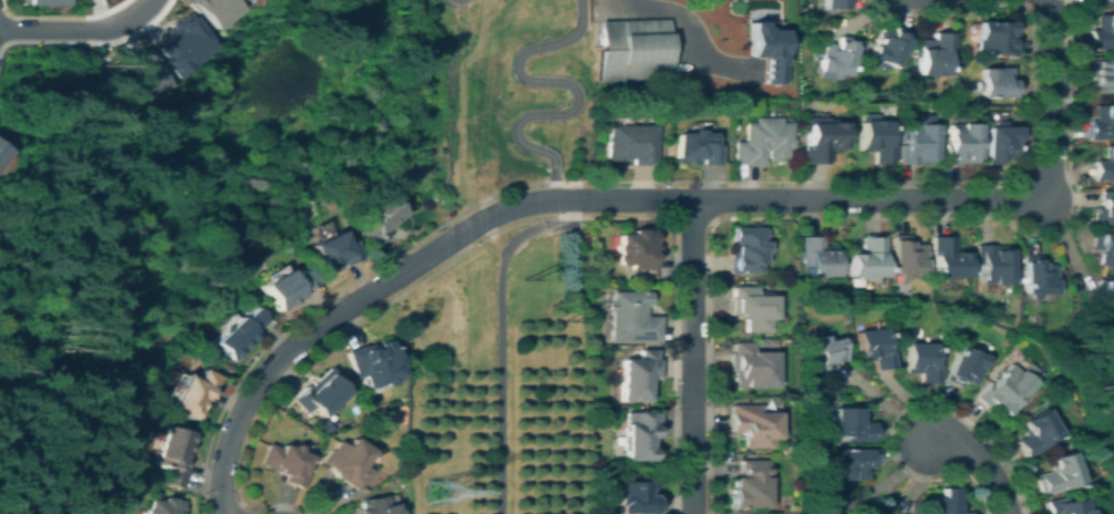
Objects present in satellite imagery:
building: (230, 0)
building: (1096, 0)
building: (42, 1)
building: (837, 3)
road: (1040, 9)
building: (212, 11)
road: (37, 16)
road: (3, 25)
road: (78, 28)
road: (458, 28)
building: (1101, 32)
building: (994, 37)
road: (698, 40)
road: (90, 41)
building: (178, 45)
building: (887, 45)
building: (763, 50)
building: (633, 51)
building: (932, 53)
building: (835, 58)
building: (137, 72)
building: (1100, 74)
road: (566, 83)
building: (994, 83)
park: (471, 91)
building: (1101, 122)
road: (494, 134)
building: (3, 138)
building: (819, 138)
building: (874, 140)
building: (762, 141)
building: (998, 142)
building: (629, 143)
building: (915, 143)
building: (957, 143)
building: (693, 147)
building: (3, 154)
building: (1104, 165)
road: (560, 181)
road: (956, 181)
road: (885, 199)
building: (1104, 208)
road: (860, 216)
building: (379, 217)
road: (690, 220)
road: (495, 230)
building: (636, 248)
building: (1103, 248)
building: (746, 249)
building: (331, 251)
building: (905, 256)
building: (816, 257)
building: (866, 258)
building: (946, 258)
building: (991, 264)
power tower: (522, 276)
building: (1035, 277)
building: (651, 279)
building: (283, 287)
road: (322, 299)
building: (1104, 300)
building: (750, 308)
building: (630, 317)
power tower: (564, 318)
road: (327, 321)
road: (497, 322)
building: (236, 333)
building: (759, 342)
building: (873, 347)
building: (821, 351)
road: (690, 356)
building: (922, 361)
building: (374, 363)
building: (749, 366)
building: (965, 366)
building: (637, 374)
building: (1000, 392)
building: (193, 393)
building: (321, 393)
road: (896, 414)
building: (361, 417)
building: (751, 424)
building: (852, 424)
building: (1034, 432)
building: (639, 434)
building: (174, 453)
building: (348, 462)
road: (978, 462)
building: (287, 463)
building: (852, 463)
building: (1056, 473)
building: (746, 485)
power tower: (425, 489)
building: (635, 497)
building: (948, 502)
building: (164, 506)
building: (373, 506)
building: (1063, 506)
road: (230, 507)

